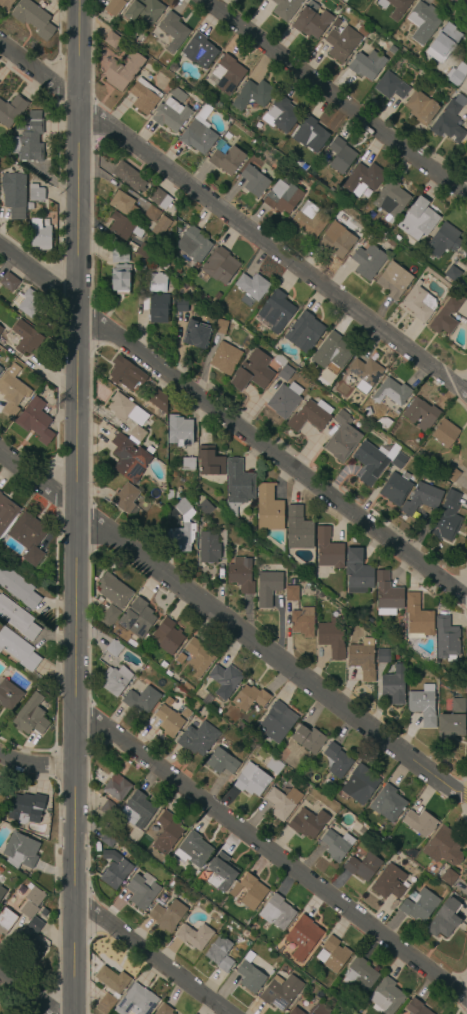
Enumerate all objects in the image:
building: (6, 4)
building: (115, 6)
building: (395, 7)
building: (286, 8)
building: (144, 11)
building: (33, 19)
building: (311, 21)
building: (423, 21)
building: (173, 31)
building: (112, 39)
building: (377, 41)
building: (342, 43)
building: (443, 43)
building: (199, 50)
building: (420, 60)
building: (367, 65)
building: (123, 70)
building: (228, 73)
building: (457, 74)
building: (391, 86)
building: (177, 94)
building: (144, 95)
building: (253, 96)
road: (336, 98)
building: (421, 107)
building: (11, 110)
building: (171, 115)
building: (281, 116)
building: (449, 120)
building: (199, 132)
building: (310, 135)
building: (227, 136)
building: (29, 138)
building: (340, 156)
building: (226, 159)
building: (129, 178)
building: (361, 180)
building: (255, 181)
building: (36, 189)
building: (14, 195)
building: (392, 197)
building: (283, 198)
building: (160, 199)
building: (123, 204)
building: (30, 206)
building: (152, 215)
building: (418, 219)
building: (309, 220)
building: (46, 222)
road: (233, 222)
building: (124, 227)
building: (161, 227)
building: (39, 235)
building: (446, 235)
building: (397, 238)
building: (337, 241)
building: (193, 244)
building: (144, 251)
building: (119, 256)
building: (368, 261)
building: (142, 265)
building: (219, 265)
building: (452, 274)
building: (121, 280)
building: (393, 280)
building: (9, 282)
building: (158, 283)
building: (252, 286)
building: (419, 303)
building: (145, 304)
building: (32, 305)
building: (181, 306)
building: (158, 308)
building: (275, 312)
building: (446, 314)
building: (0, 327)
building: (221, 327)
building: (0, 329)
building: (304, 333)
building: (196, 336)
building: (26, 338)
building: (332, 352)
building: (225, 359)
building: (300, 366)
building: (283, 368)
building: (0, 370)
building: (253, 372)
building: (125, 373)
building: (365, 373)
building: (150, 382)
building: (12, 391)
building: (391, 392)
building: (284, 400)
building: (158, 401)
building: (126, 410)
building: (422, 414)
building: (310, 416)
building: (36, 421)
road: (233, 422)
building: (382, 423)
building: (179, 431)
building: (445, 433)
building: (136, 434)
building: (342, 437)
building: (422, 457)
building: (129, 459)
building: (210, 461)
building: (398, 461)
building: (370, 463)
building: (189, 464)
building: (451, 473)
building: (238, 485)
building: (395, 488)
building: (0, 493)
building: (169, 496)
building: (124, 498)
building: (421, 498)
road: (74, 506)
building: (205, 507)
building: (268, 508)
building: (6, 513)
building: (447, 517)
building: (181, 529)
building: (299, 529)
building: (28, 537)
building: (208, 547)
building: (329, 550)
building: (357, 573)
building: (241, 575)
building: (268, 587)
building: (18, 588)
building: (114, 591)
building: (291, 594)
building: (387, 595)
building: (109, 617)
building: (417, 617)
building: (137, 618)
building: (18, 619)
building: (370, 621)
building: (302, 623)
road: (233, 629)
building: (167, 637)
building: (331, 637)
building: (446, 639)
building: (113, 649)
building: (18, 650)
building: (383, 656)
building: (197, 658)
building: (179, 659)
building: (362, 659)
building: (163, 665)
building: (168, 674)
building: (115, 680)
building: (225, 680)
building: (393, 685)
building: (8, 695)
building: (249, 698)
building: (141, 699)
building: (423, 705)
building: (457, 706)
building: (218, 712)
building: (31, 716)
building: (170, 720)
building: (277, 722)
building: (450, 726)
building: (243, 728)
building: (197, 738)
building: (308, 739)
building: (337, 760)
building: (221, 762)
road: (36, 765)
building: (274, 766)
building: (251, 781)
building: (360, 784)
building: (117, 789)
building: (282, 803)
building: (387, 804)
building: (26, 808)
building: (108, 809)
building: (137, 811)
building: (326, 813)
building: (419, 823)
building: (305, 824)
building: (358, 829)
building: (164, 833)
building: (108, 838)
building: (336, 845)
building: (444, 847)
building: (195, 850)
building: (20, 851)
building: (110, 855)
road: (270, 856)
building: (363, 866)
building: (221, 872)
building: (115, 874)
building: (448, 877)
building: (1, 881)
building: (389, 883)
building: (142, 890)
building: (248, 891)
building: (2, 892)
building: (35, 897)
building: (160, 900)
building: (419, 905)
building: (28, 910)
building: (277, 913)
building: (167, 916)
building: (6, 920)
building: (445, 920)
building: (37, 922)
building: (194, 936)
building: (302, 937)
building: (220, 954)
building: (333, 955)
building: (249, 957)
road: (149, 958)
building: (359, 975)
building: (250, 977)
building: (112, 979)
road: (30, 991)
building: (281, 992)
building: (386, 997)
building: (136, 1001)
building: (105, 1004)
building: (415, 1007)
building: (318, 1009)
building: (164, 1010)
building: (295, 1011)

